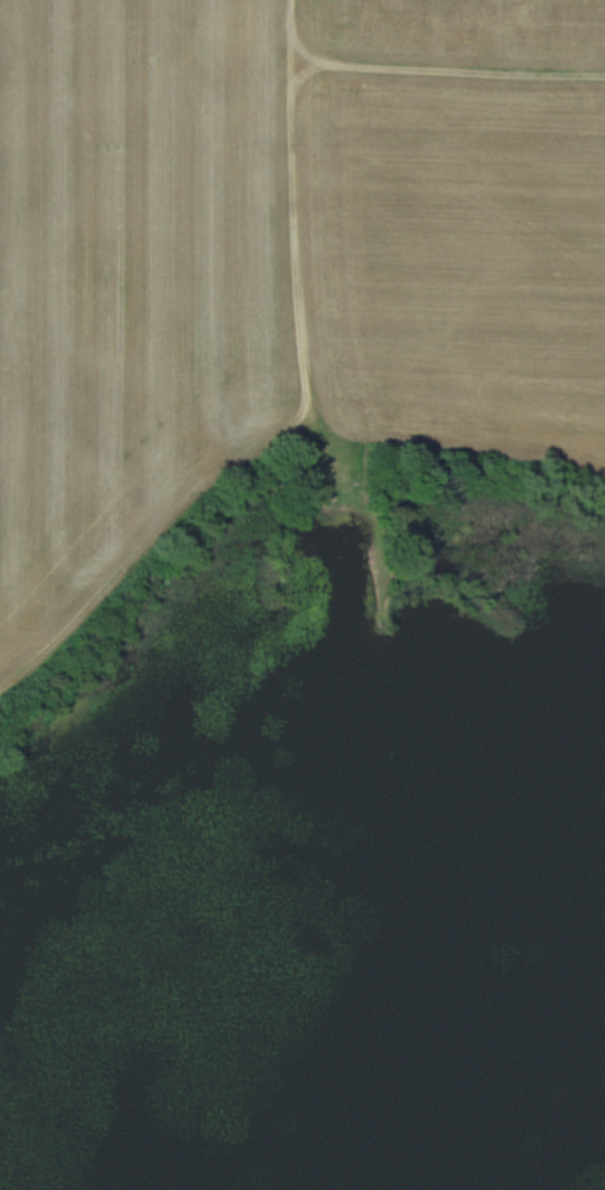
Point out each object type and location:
road: (448, 67)

